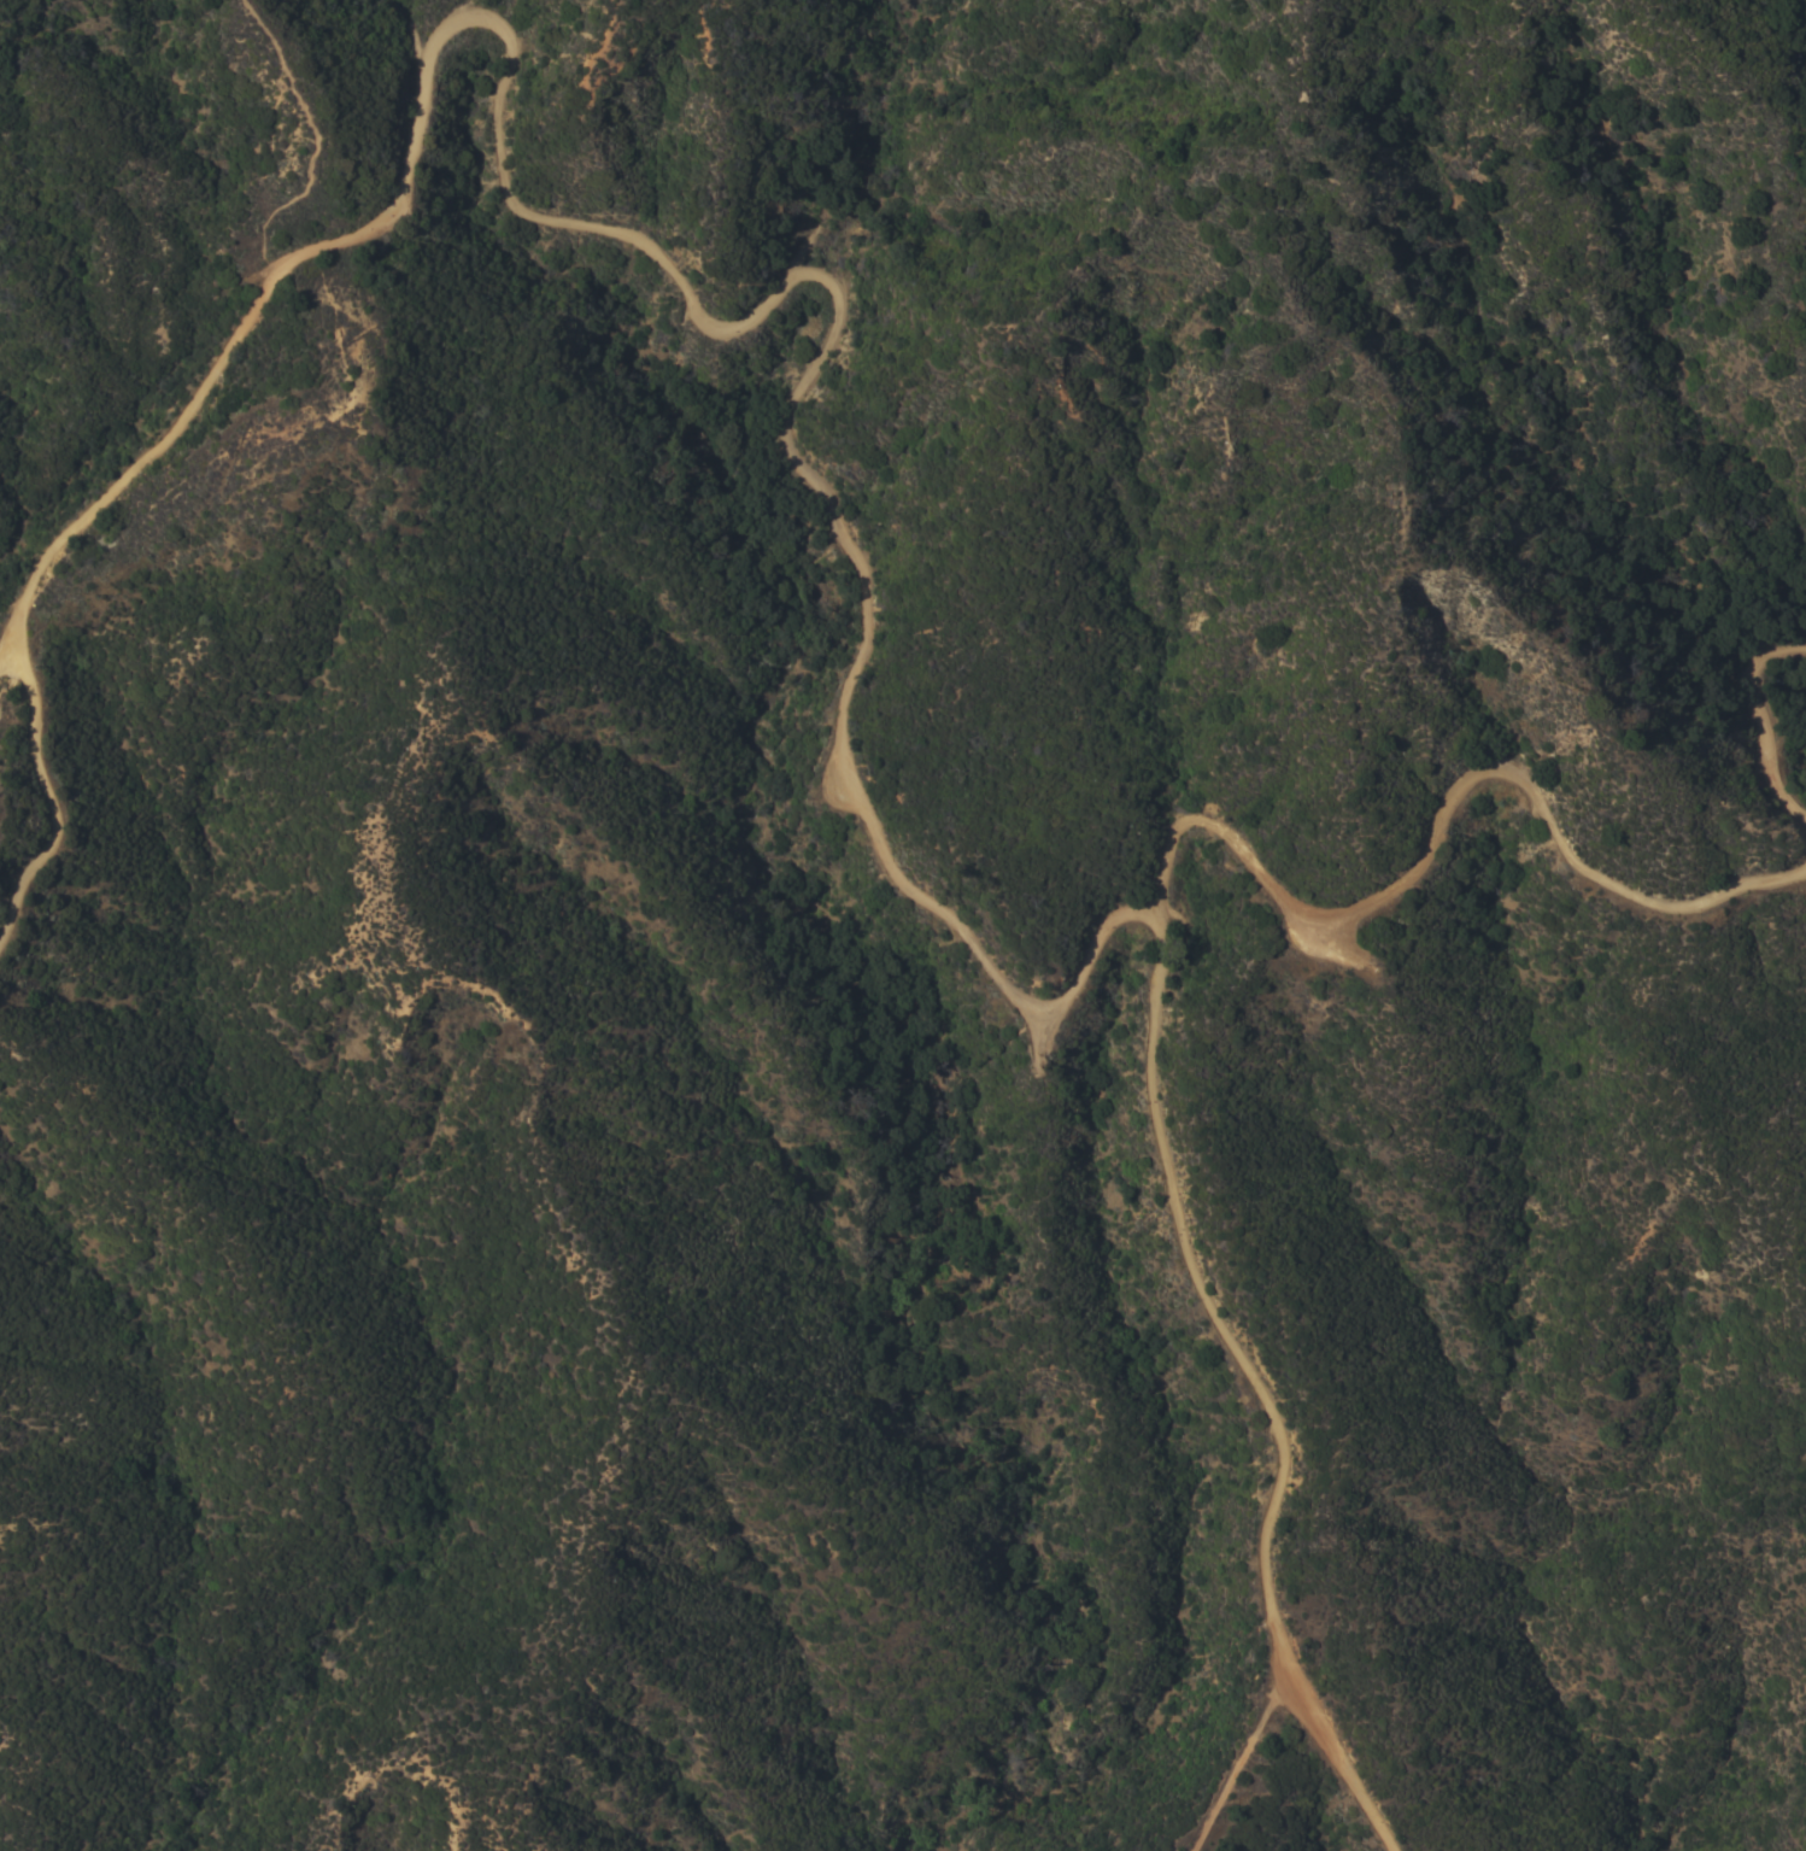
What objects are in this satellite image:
road: (307, 139)
road: (657, 257)
road: (1763, 720)
road: (52, 801)
road: (1442, 819)
road: (1257, 1396)
road: (1232, 1755)

